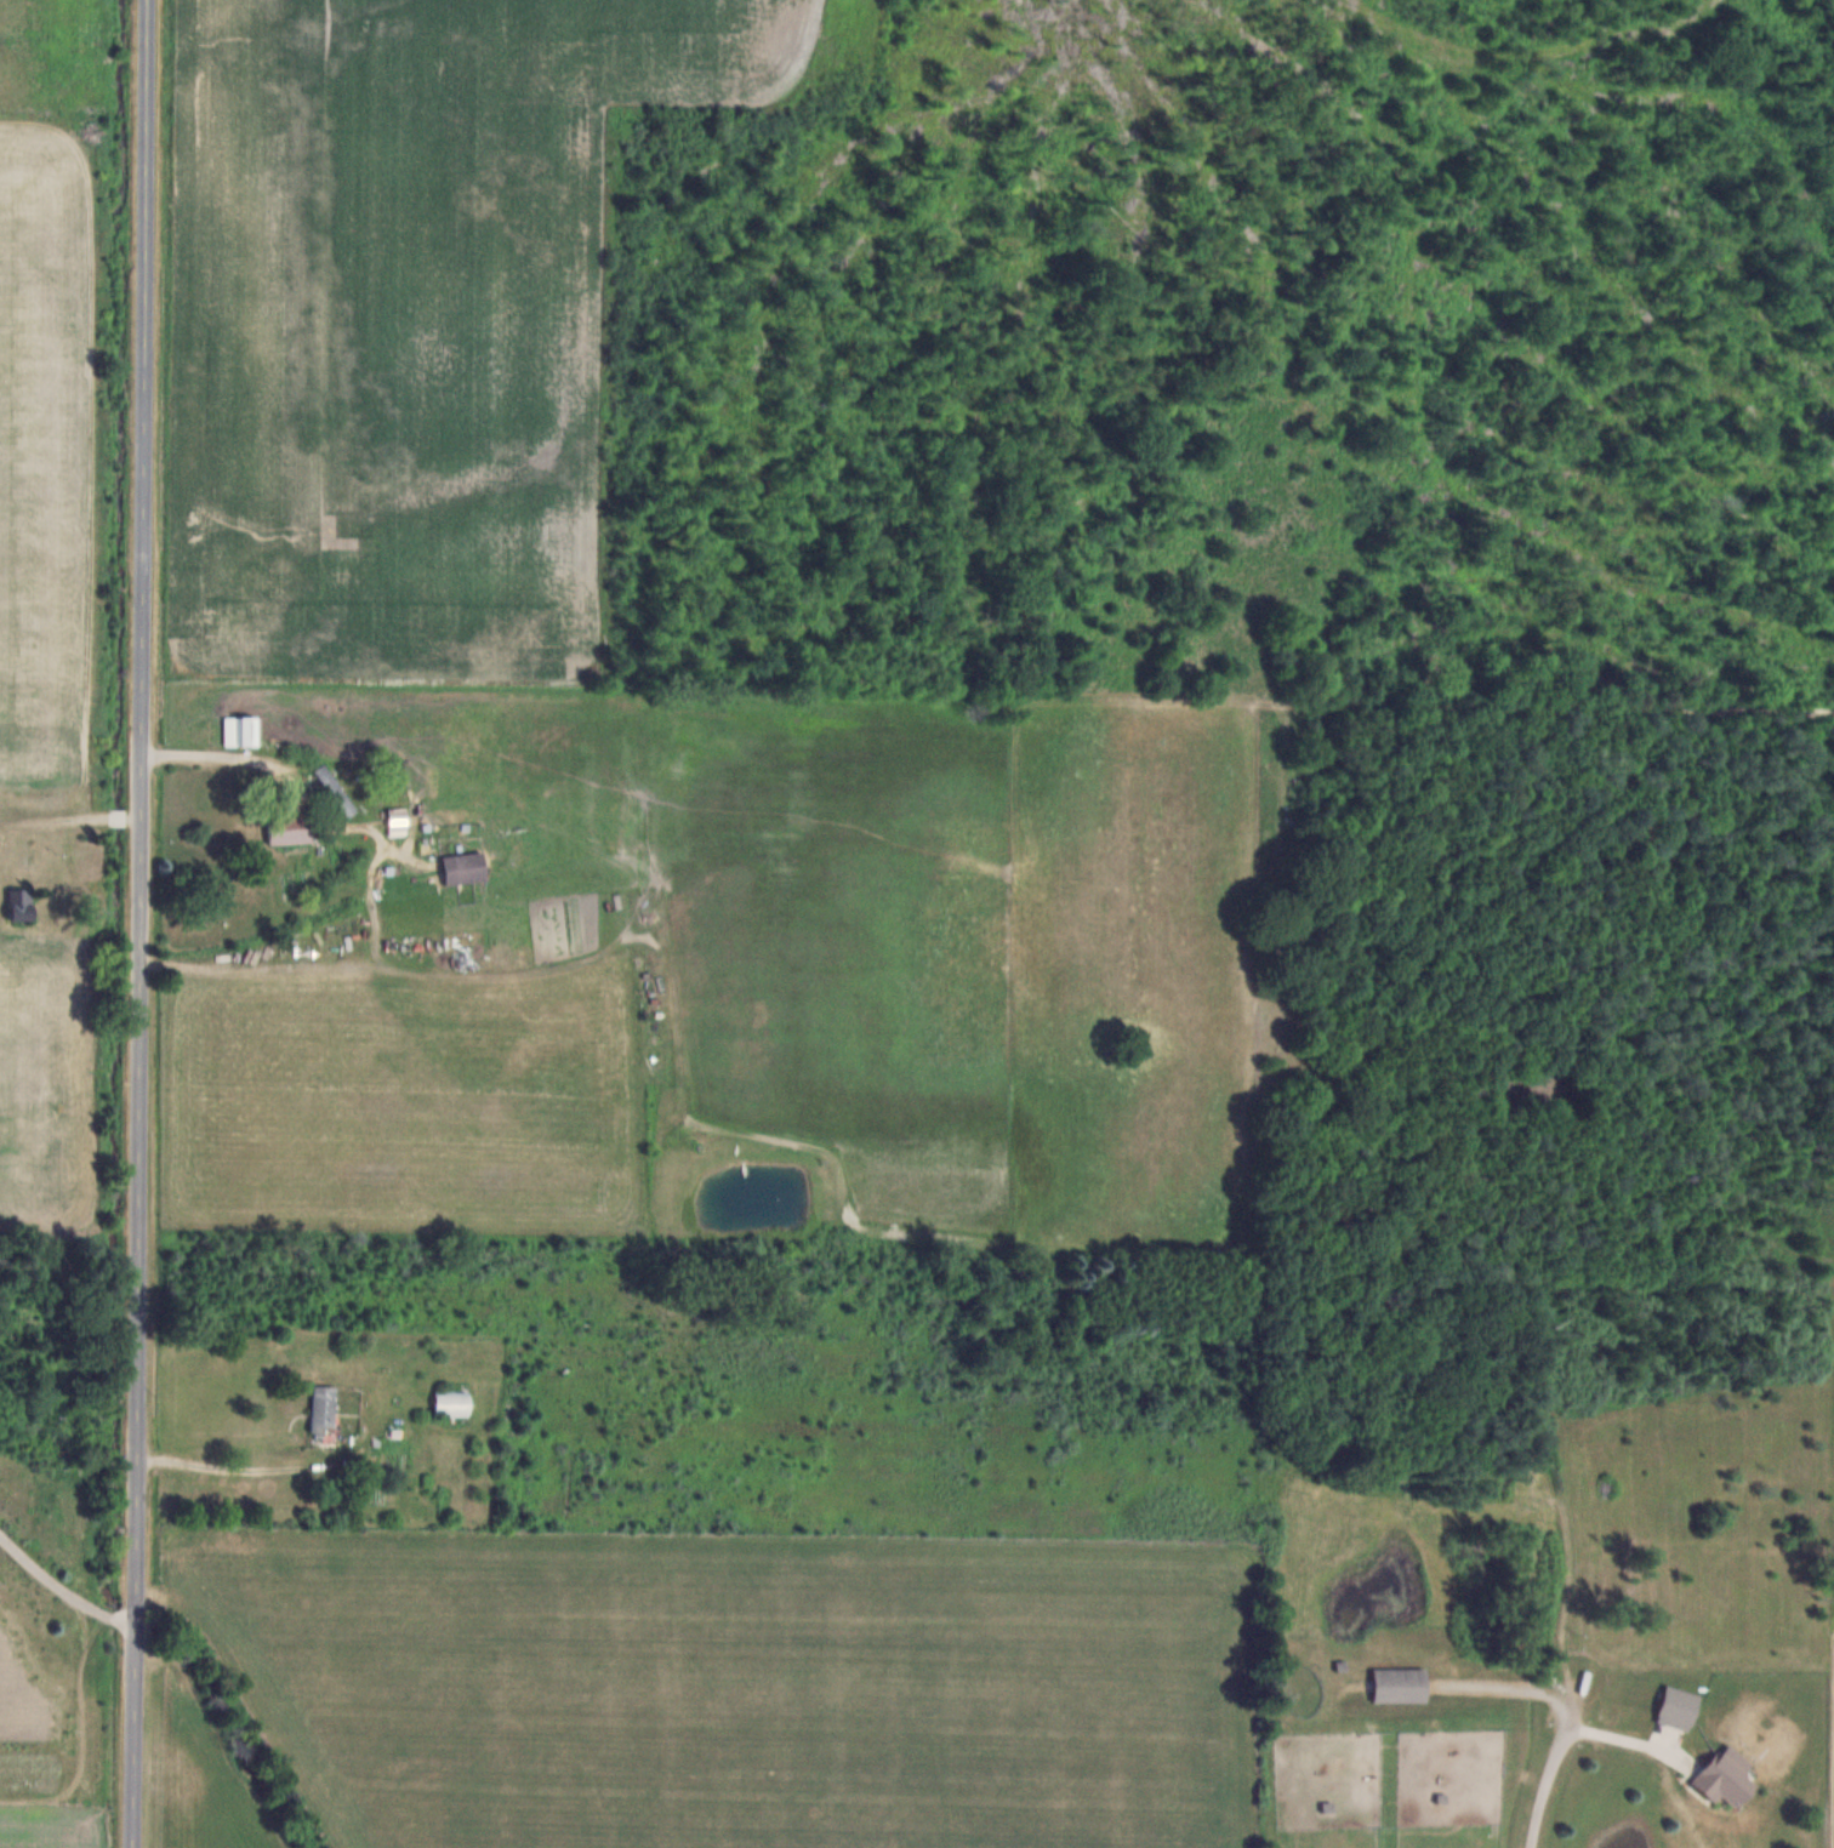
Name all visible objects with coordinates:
building: (241, 731)
road: (210, 753)
building: (336, 791)
building: (291, 829)
building: (465, 868)
building: (22, 906)
road: (146, 924)
building: (452, 1403)
building: (324, 1409)
road: (229, 1470)
road: (61, 1593)
building: (1401, 1686)
building: (1680, 1709)
building: (1728, 1778)
road: (1548, 1786)

